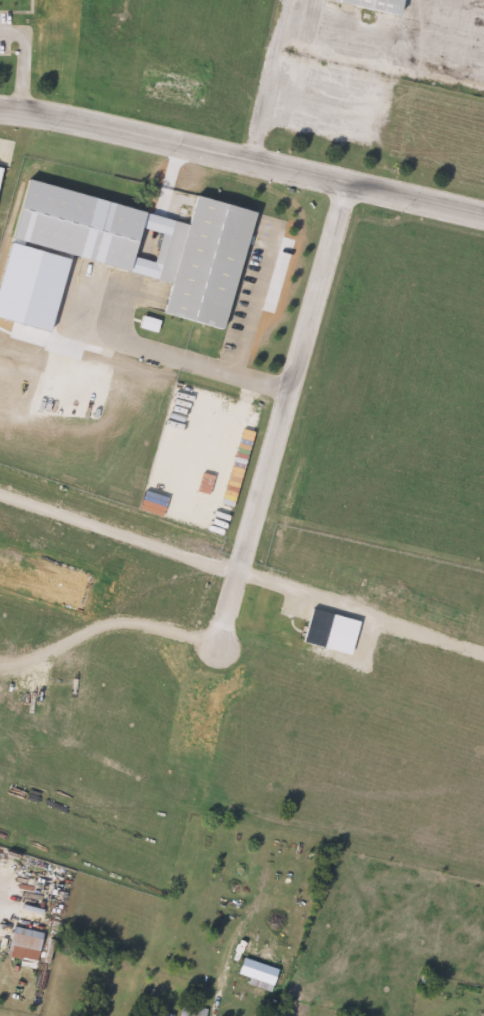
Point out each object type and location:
building: (371, 6)
road: (22, 60)
road: (242, 156)
building: (212, 262)
road: (242, 328)
road: (152, 348)
road: (280, 412)
building: (32, 945)
building: (256, 976)
building: (187, 1010)
building: (153, 1014)

